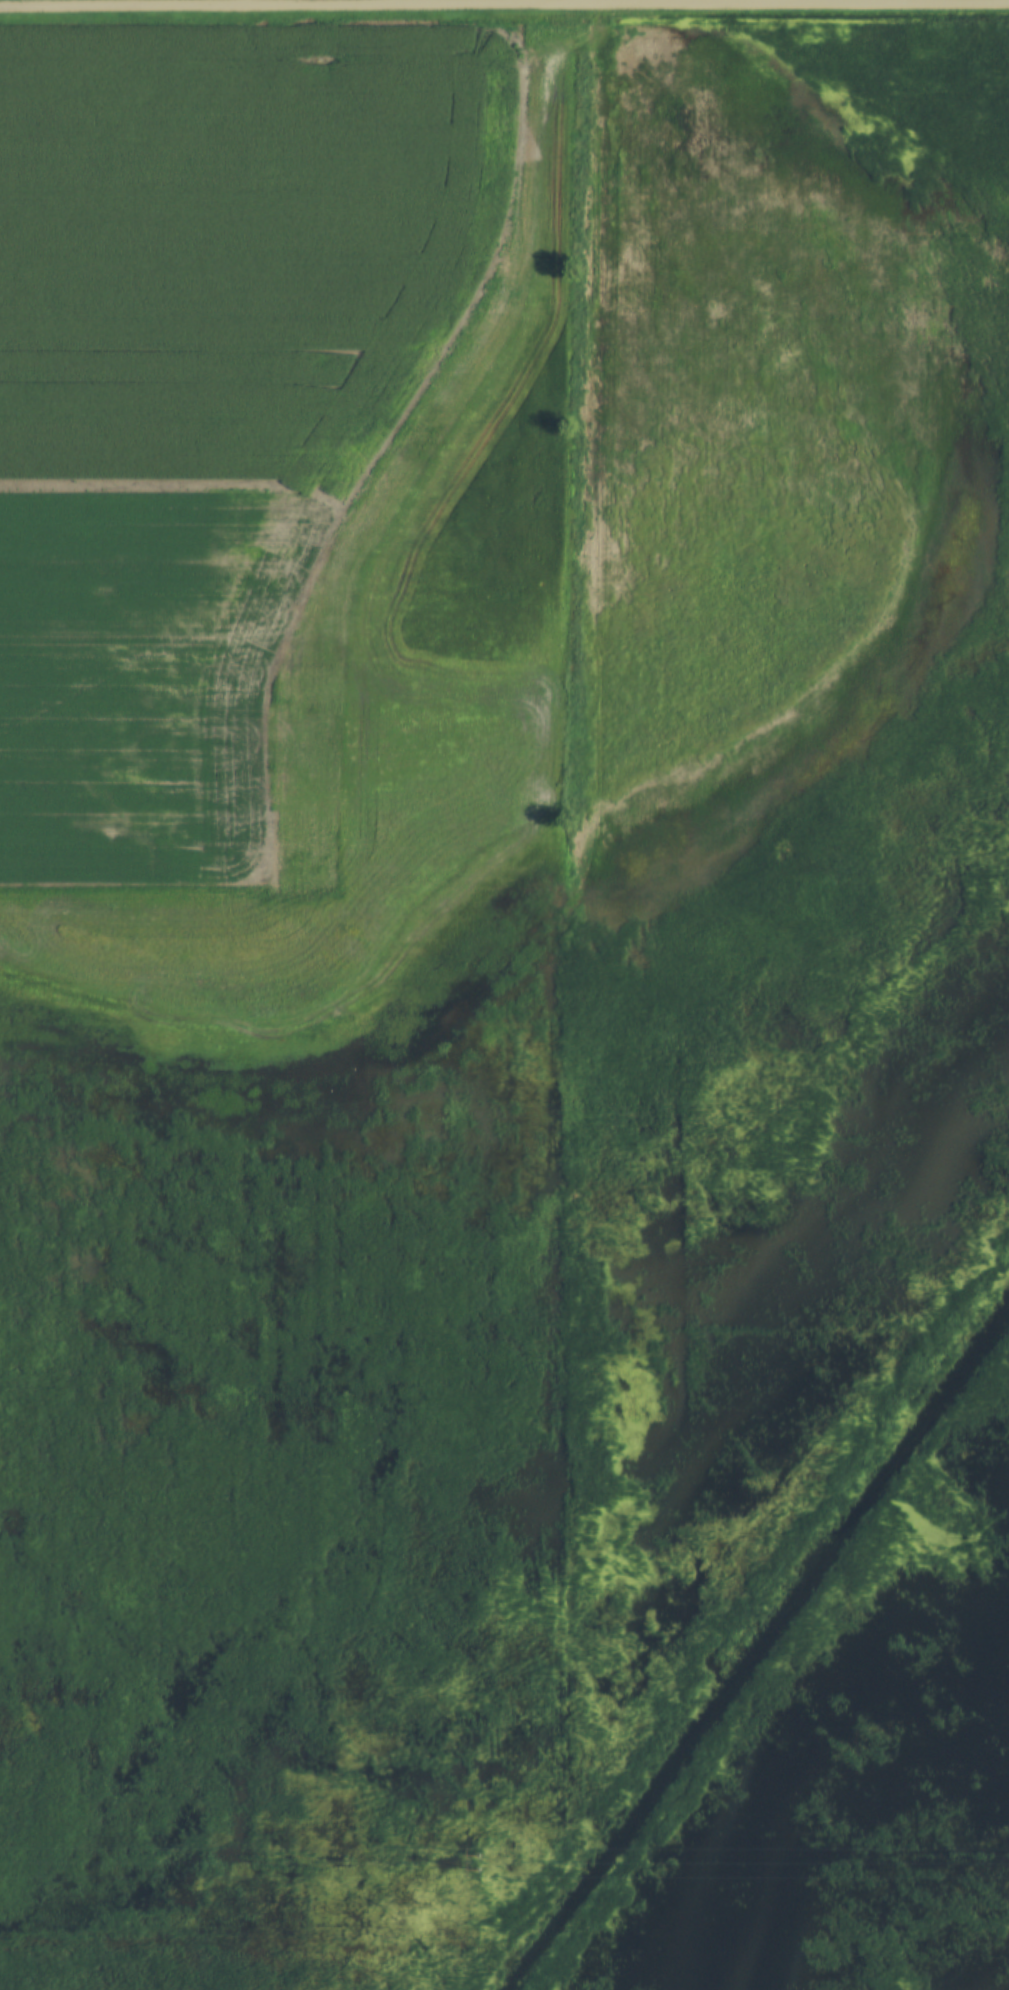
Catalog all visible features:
road: (504, 2)
crop: (281, 534)
power tower: (475, 1863)

